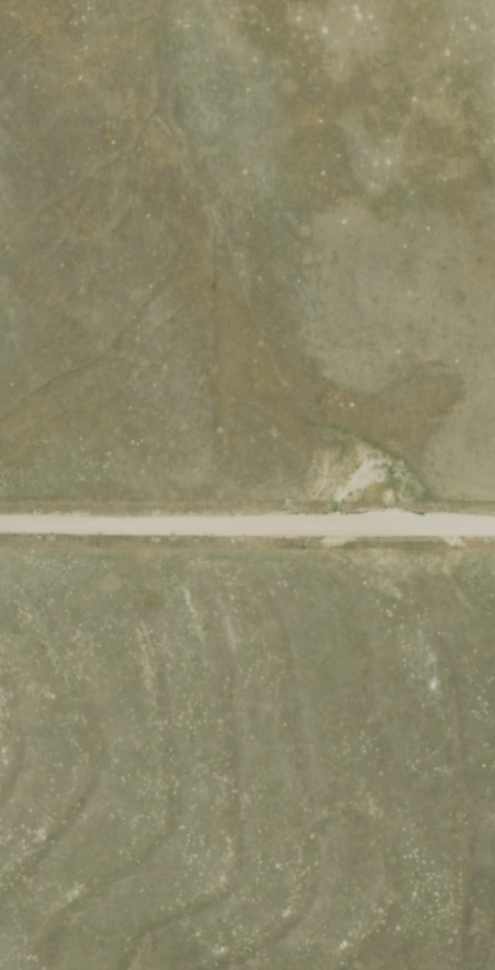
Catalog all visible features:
road: (247, 521)

